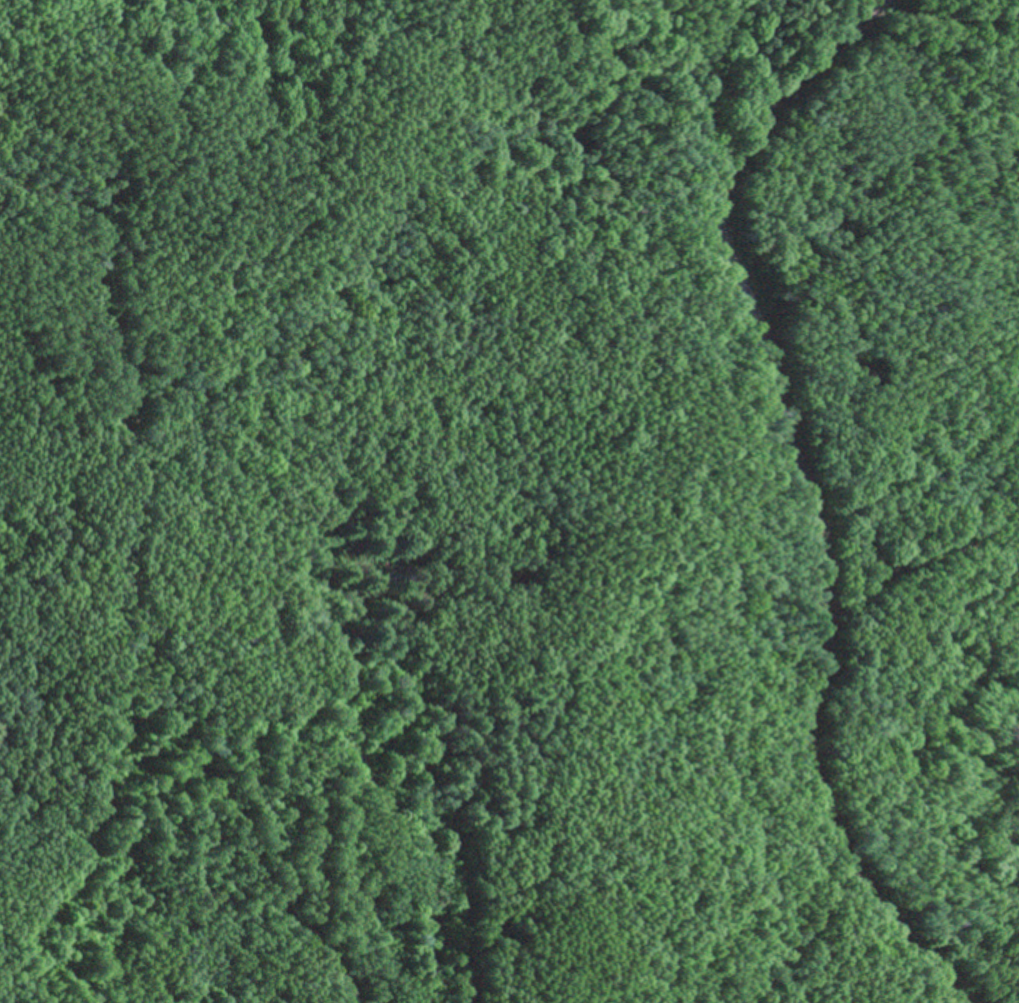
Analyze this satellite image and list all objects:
road: (800, 503)
quarry: (463, 541)
road: (915, 559)

